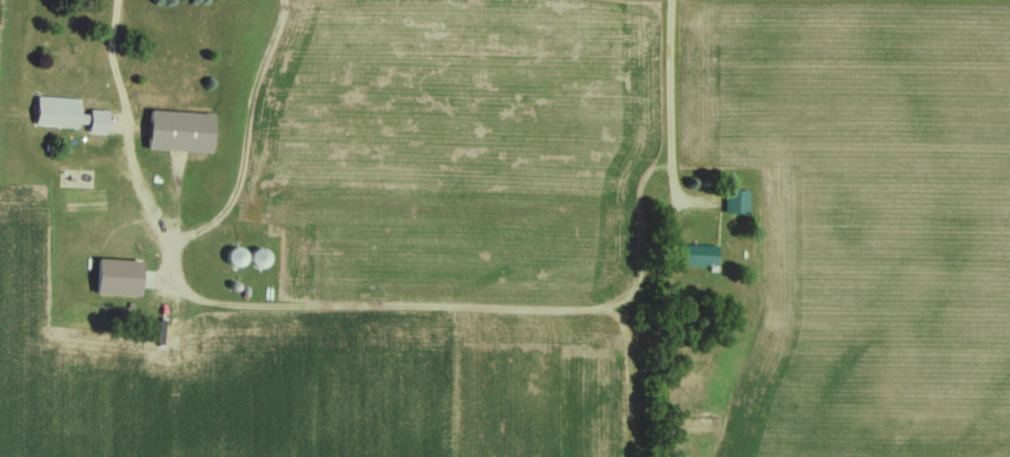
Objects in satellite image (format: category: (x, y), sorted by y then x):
building: (75, 54)
road: (665, 98)
building: (182, 132)
road: (82, 165)
building: (738, 203)
building: (700, 256)
building: (237, 258)
building: (261, 259)
building: (121, 278)

